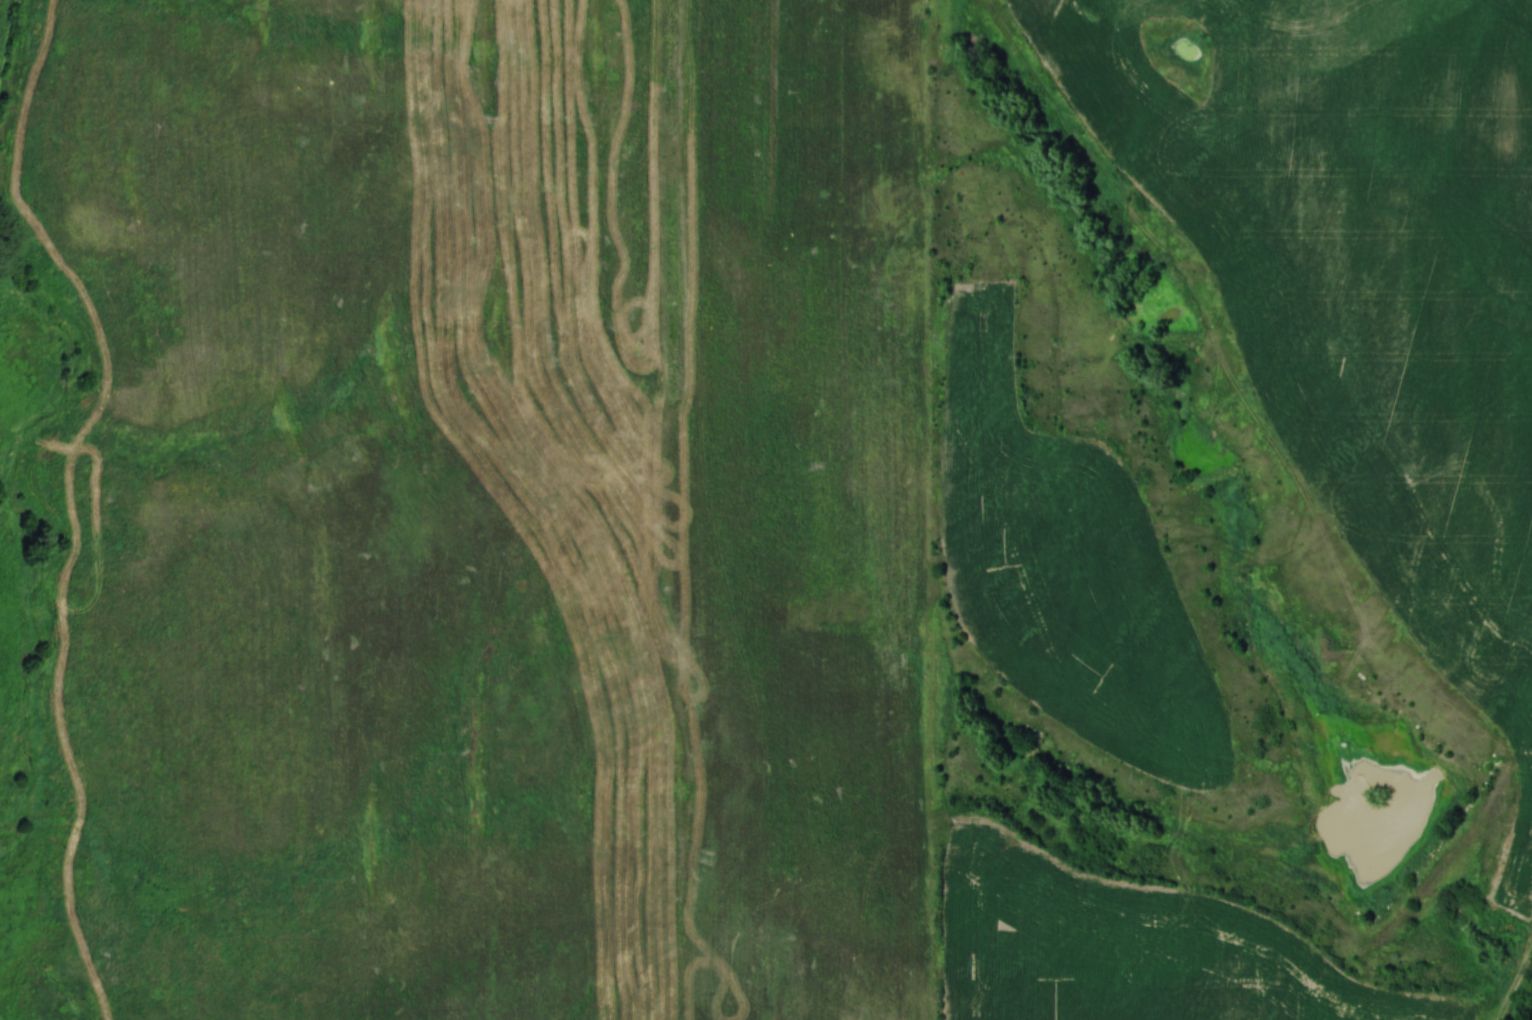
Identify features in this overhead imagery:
crop: (1361, 282)
crop: (1064, 567)
crop: (1129, 946)

